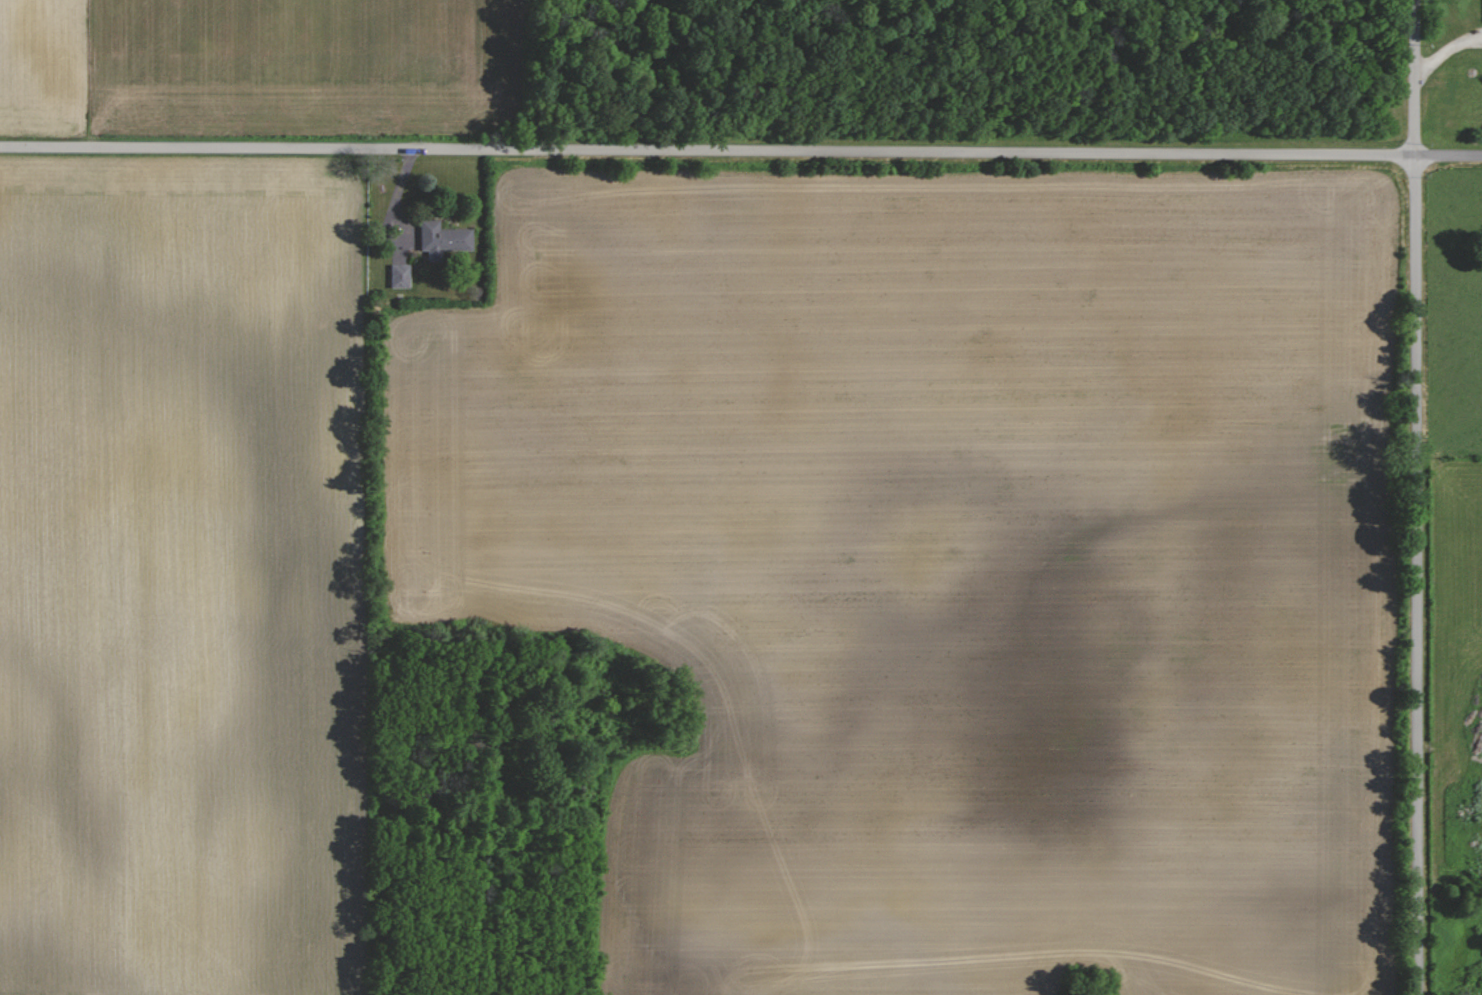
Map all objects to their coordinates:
road: (1446, 50)
road: (741, 150)
building: (445, 240)
building: (402, 275)
road: (1417, 497)

